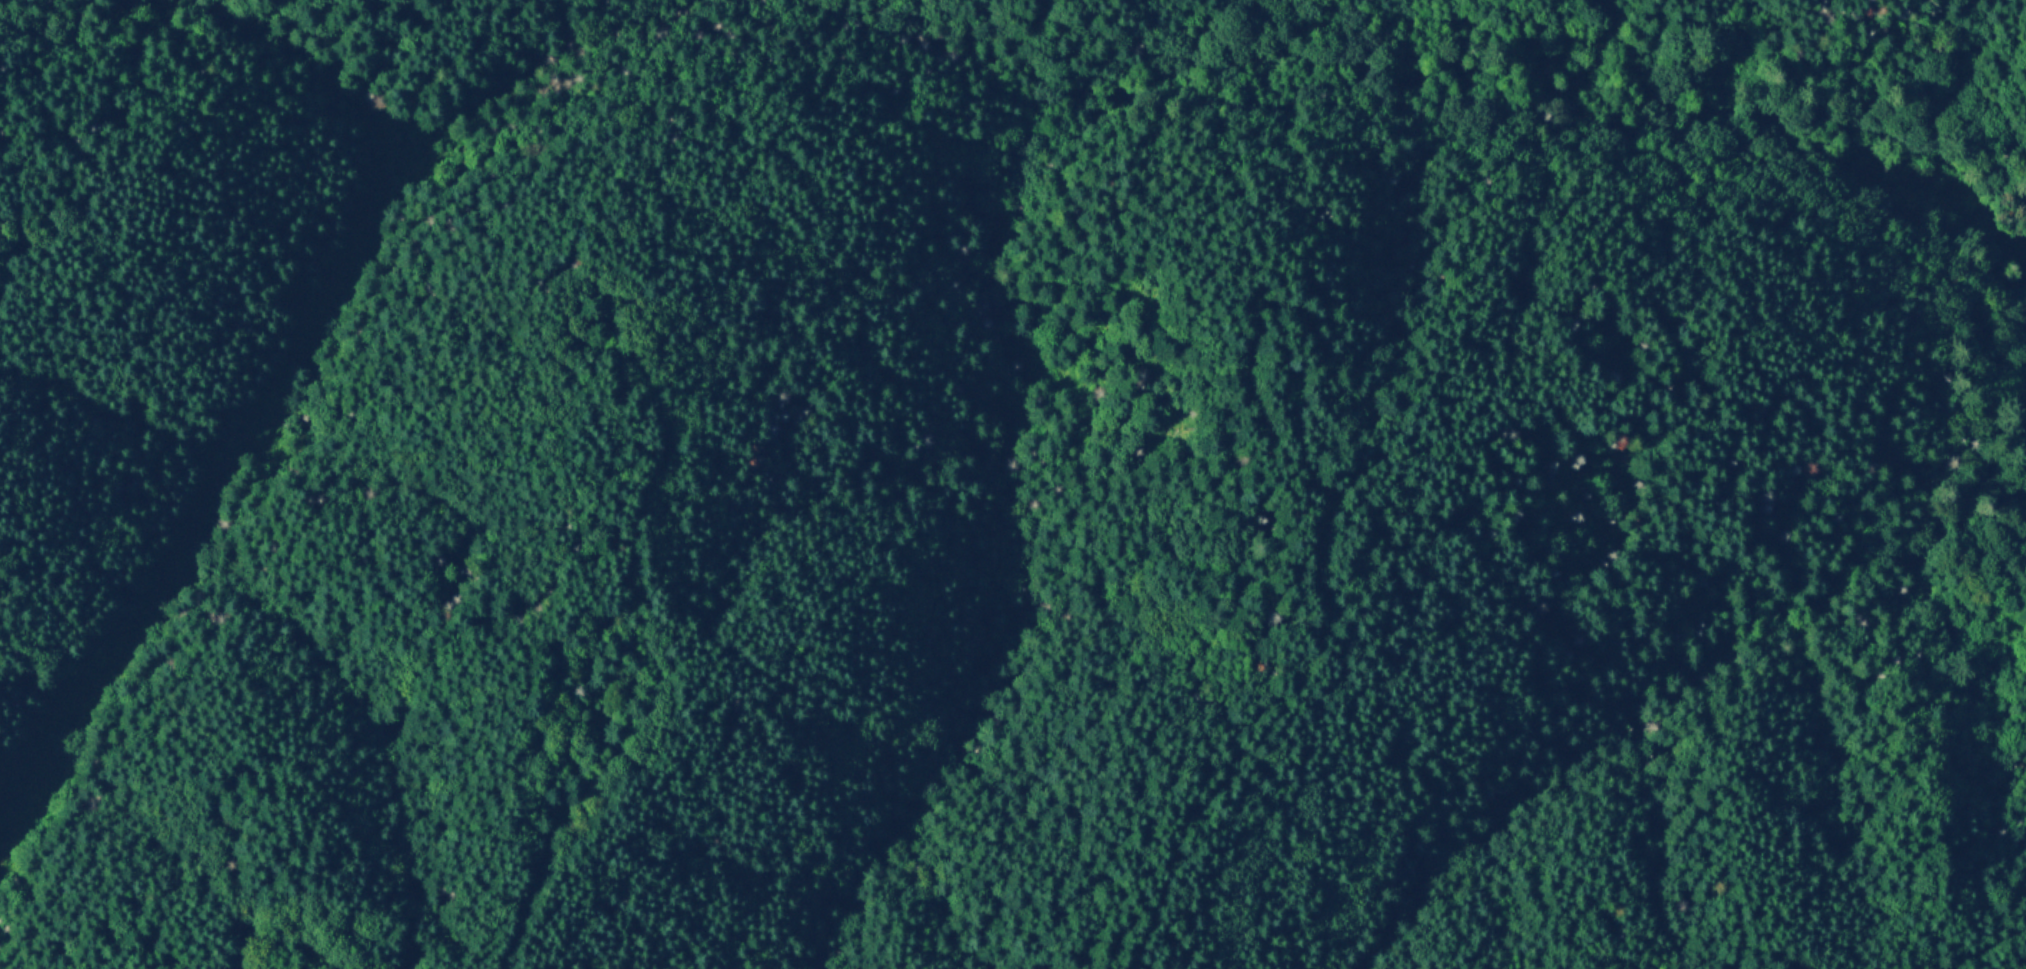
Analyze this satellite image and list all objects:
road: (29, 194)
road: (1473, 402)
road: (649, 636)
road: (1304, 661)
road: (1980, 934)

